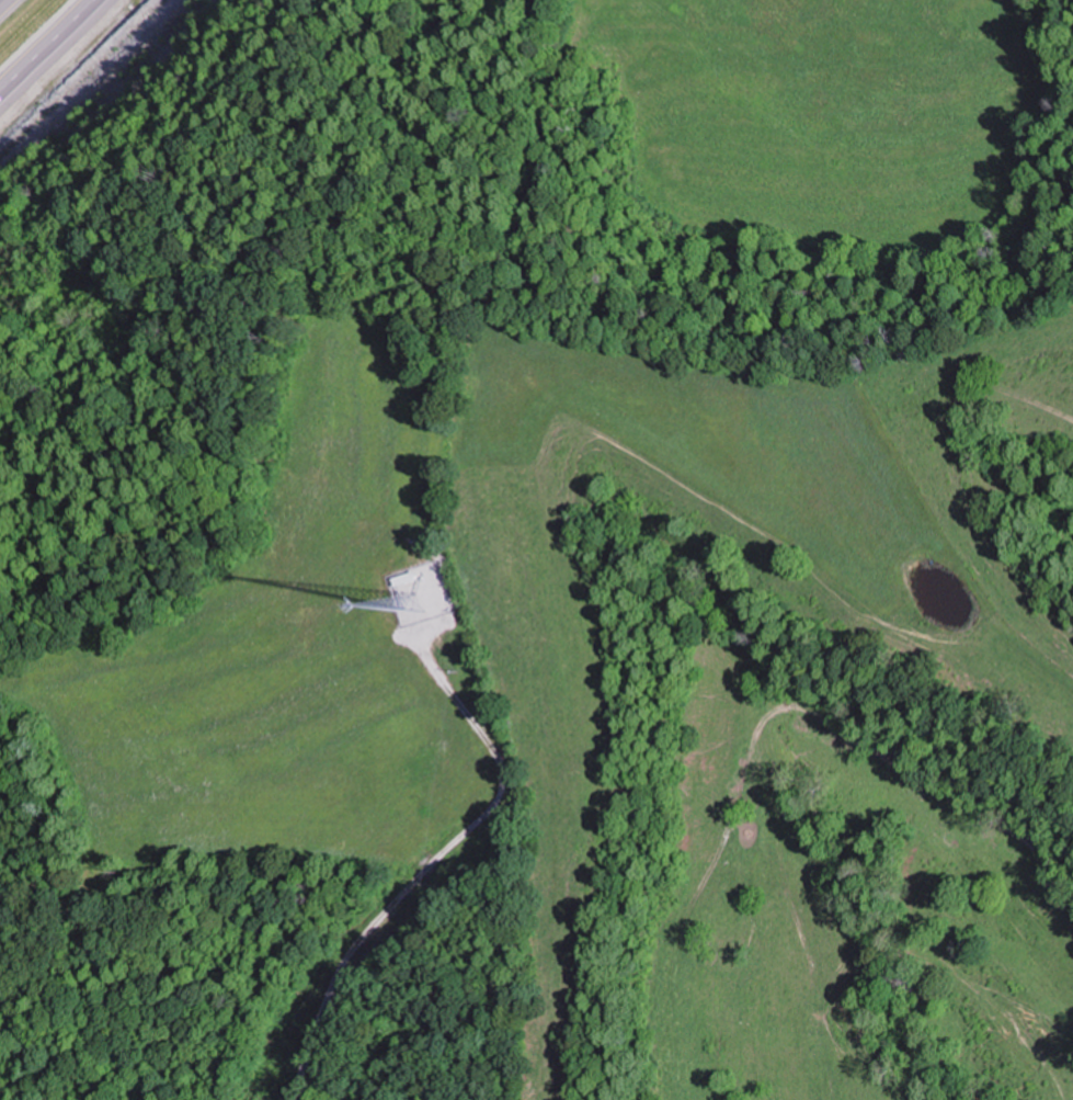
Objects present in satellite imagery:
road: (0, 0)
road: (48, 47)

